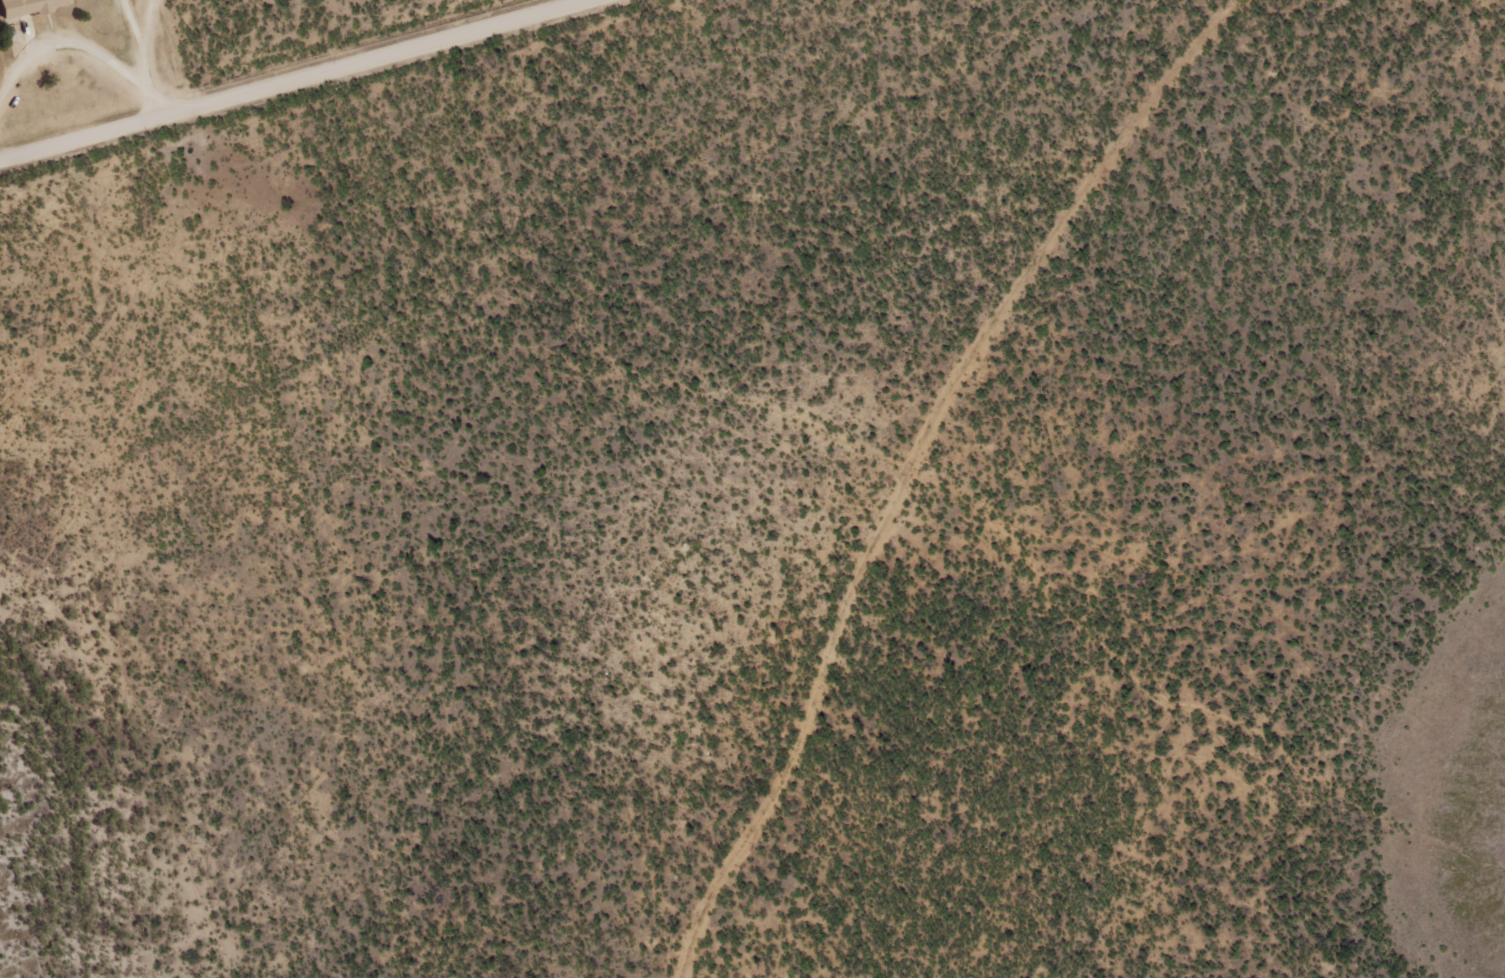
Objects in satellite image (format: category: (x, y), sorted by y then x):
building: (28, 6)
road: (286, 78)

